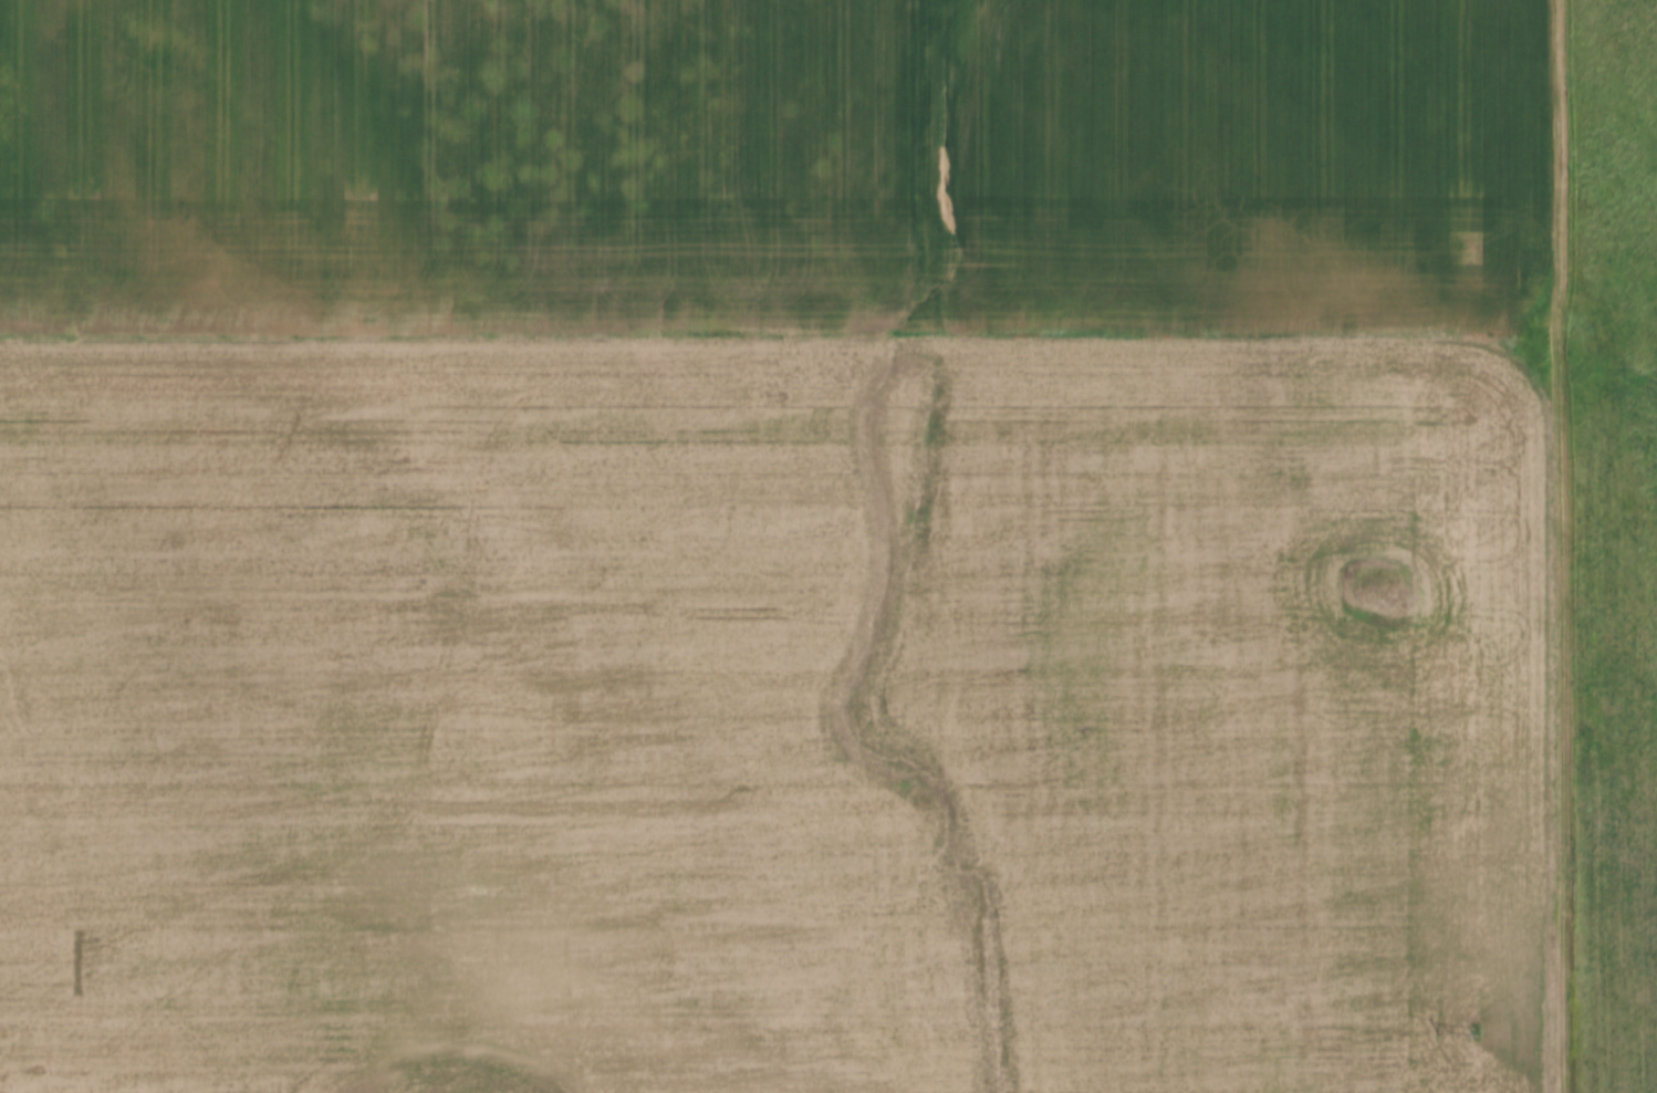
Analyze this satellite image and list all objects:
road: (1561, 545)

